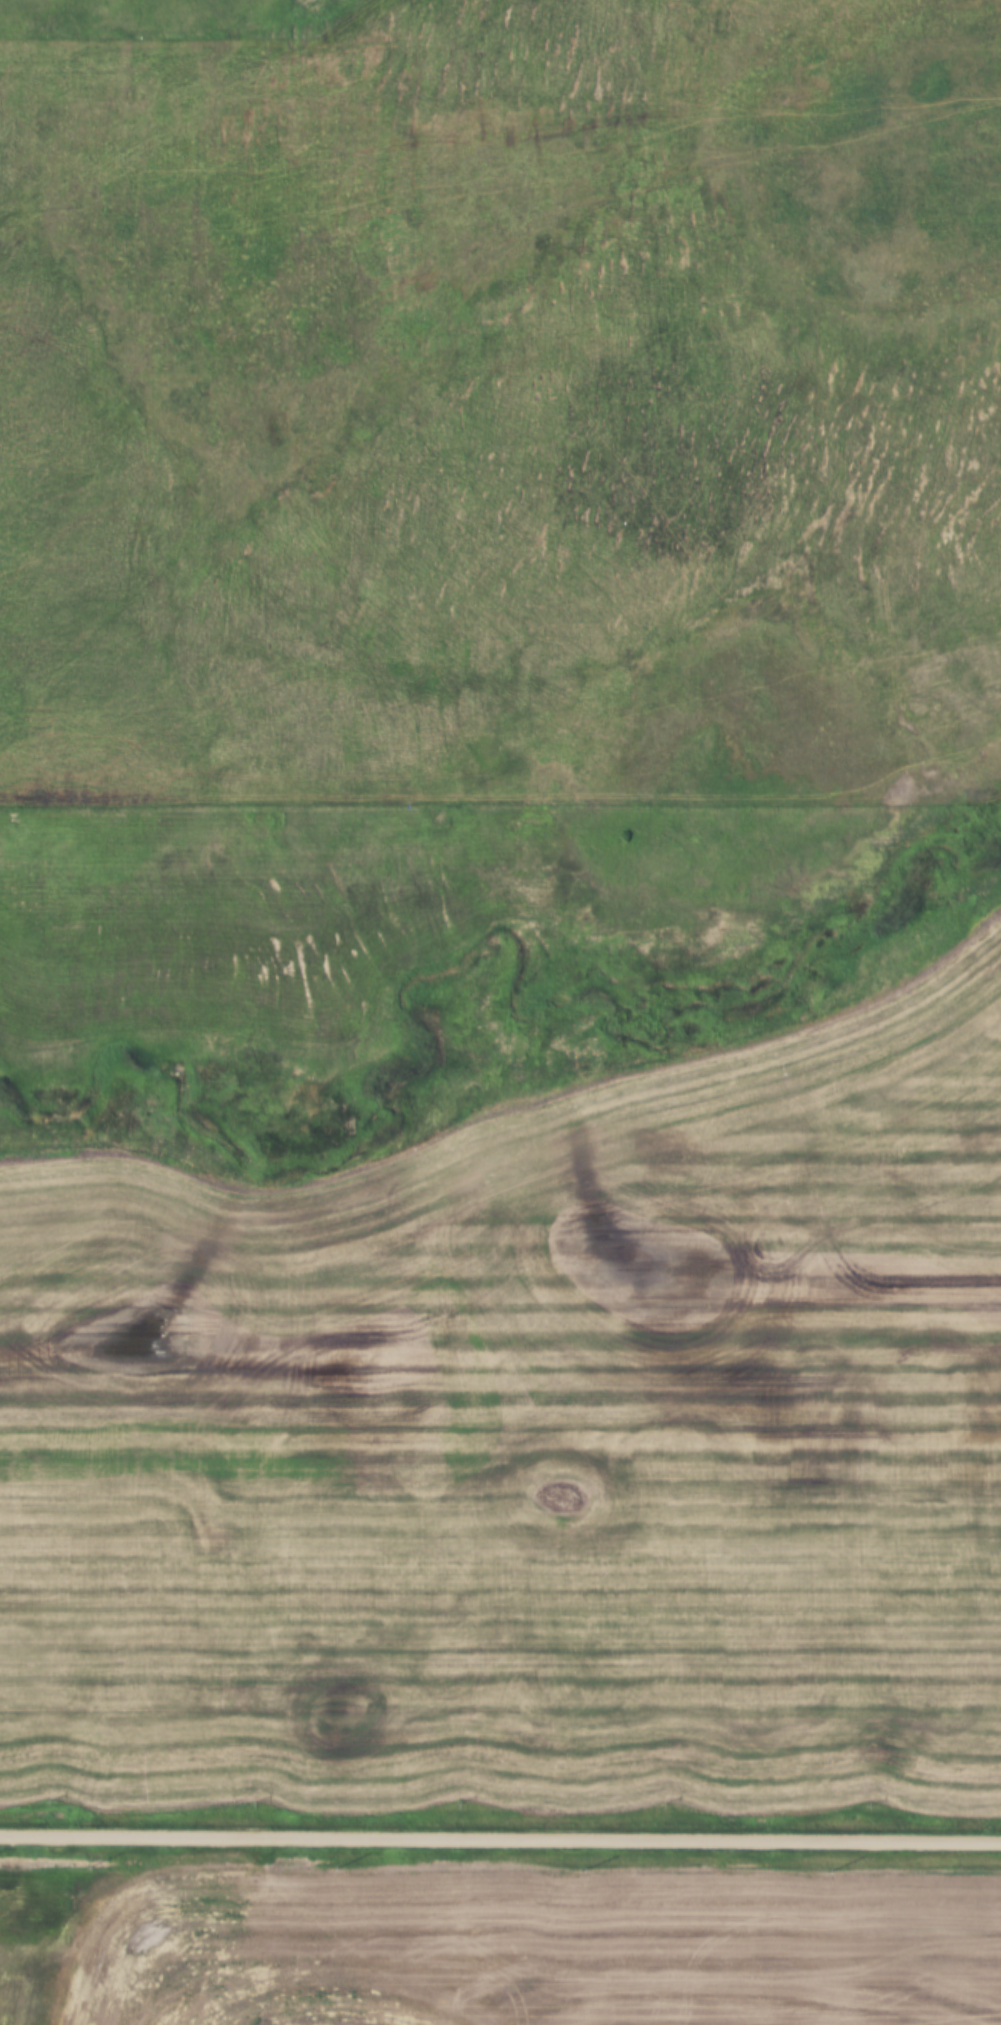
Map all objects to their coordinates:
road: (500, 1835)

